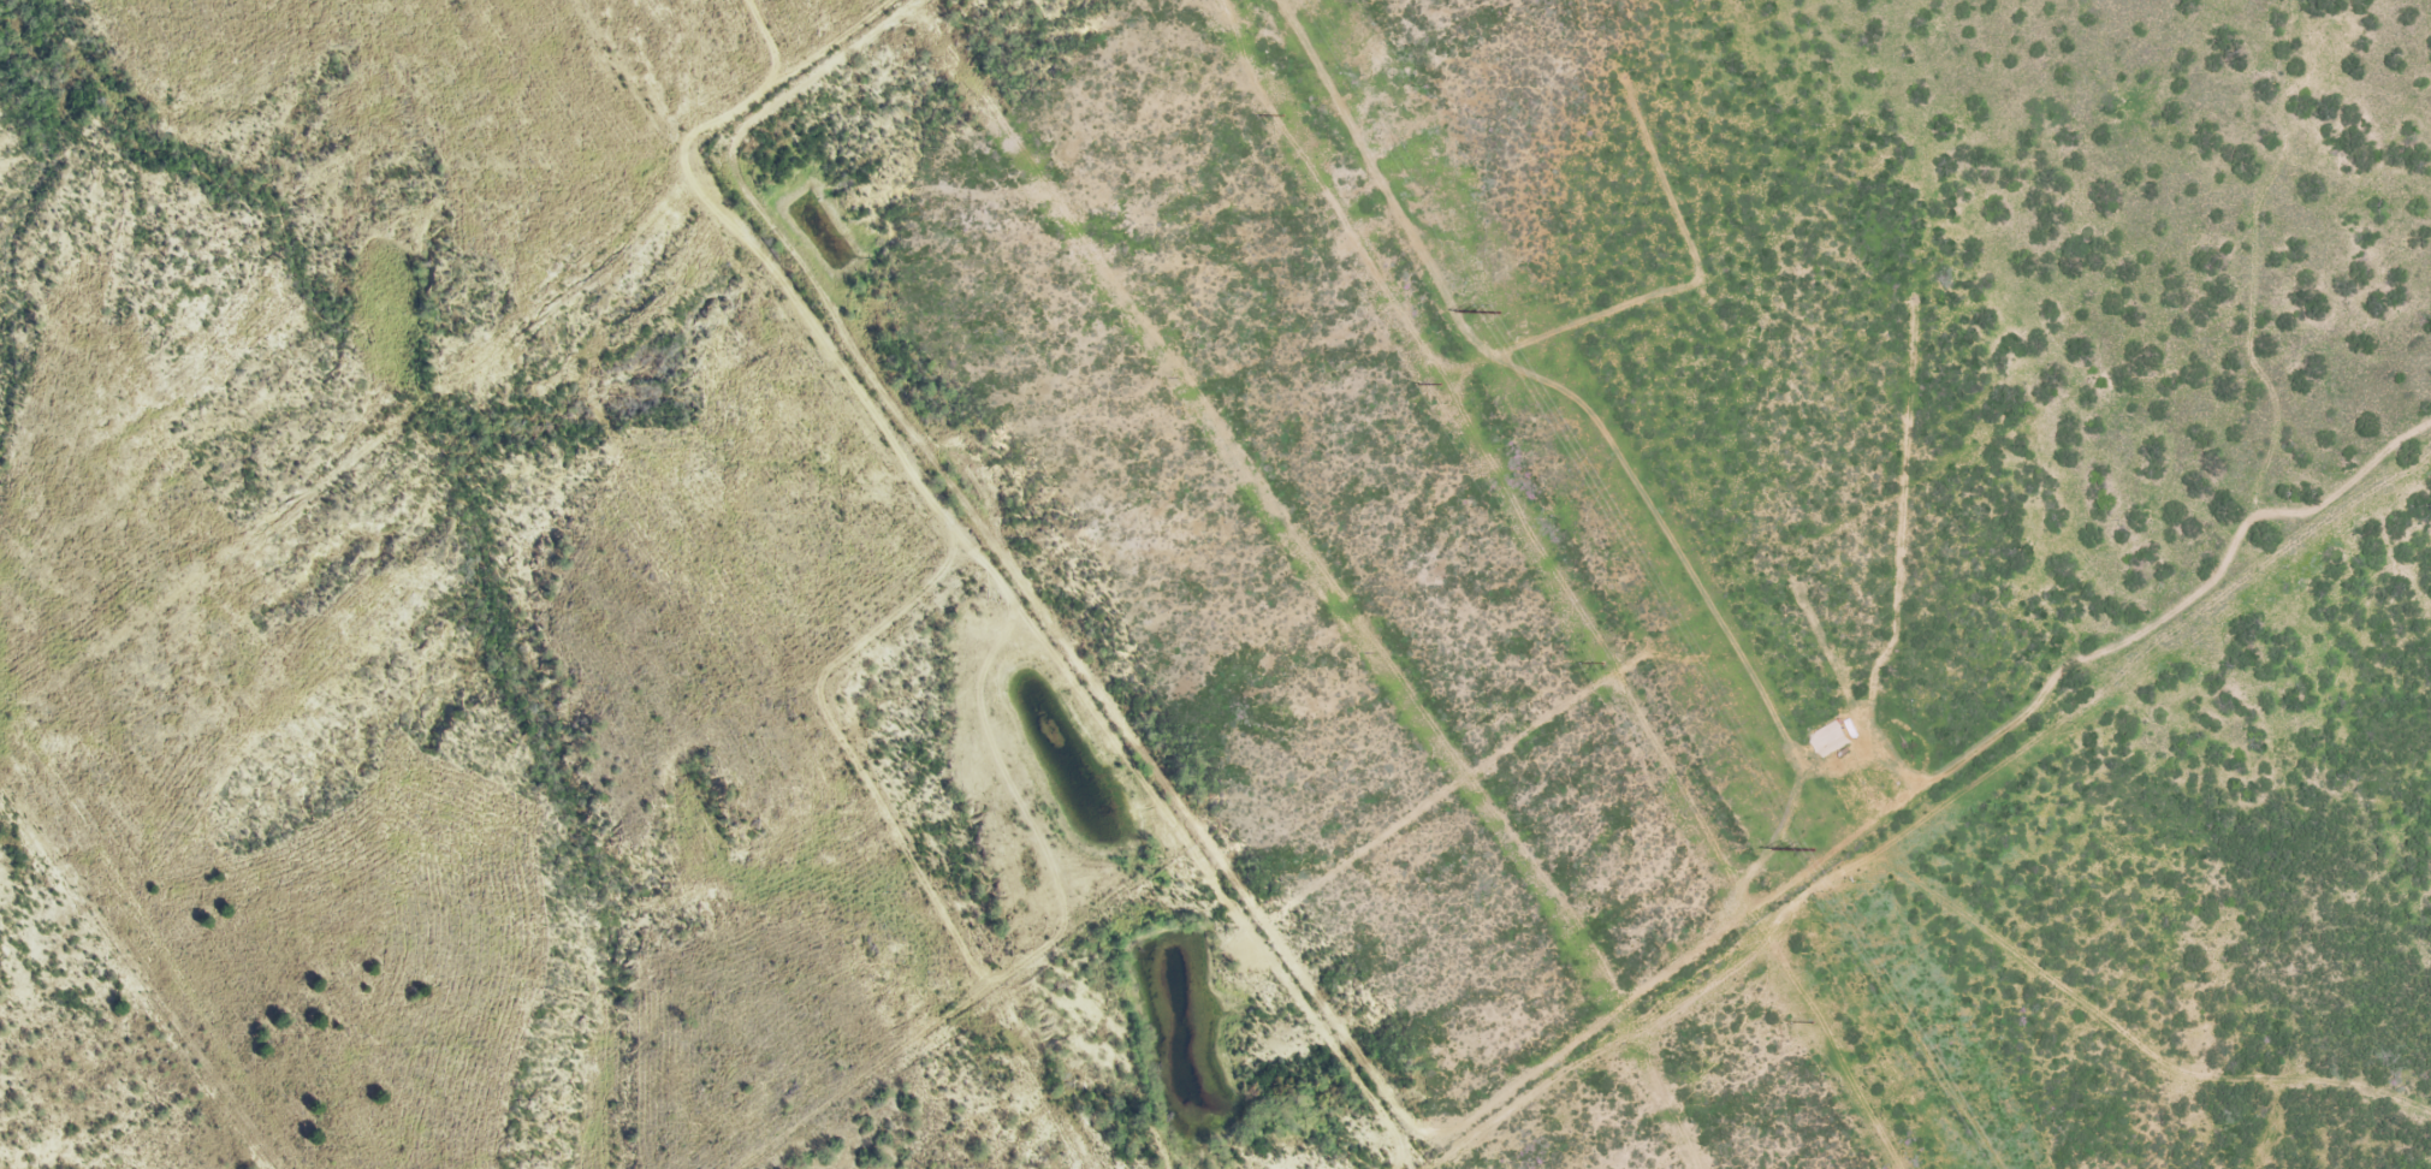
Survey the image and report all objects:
power tower: (1282, 117)
power tower: (1498, 313)
power tower: (1440, 386)
power tower: (1602, 664)
power tower: (1810, 850)
road: (2051, 910)
power tower: (1812, 1023)

